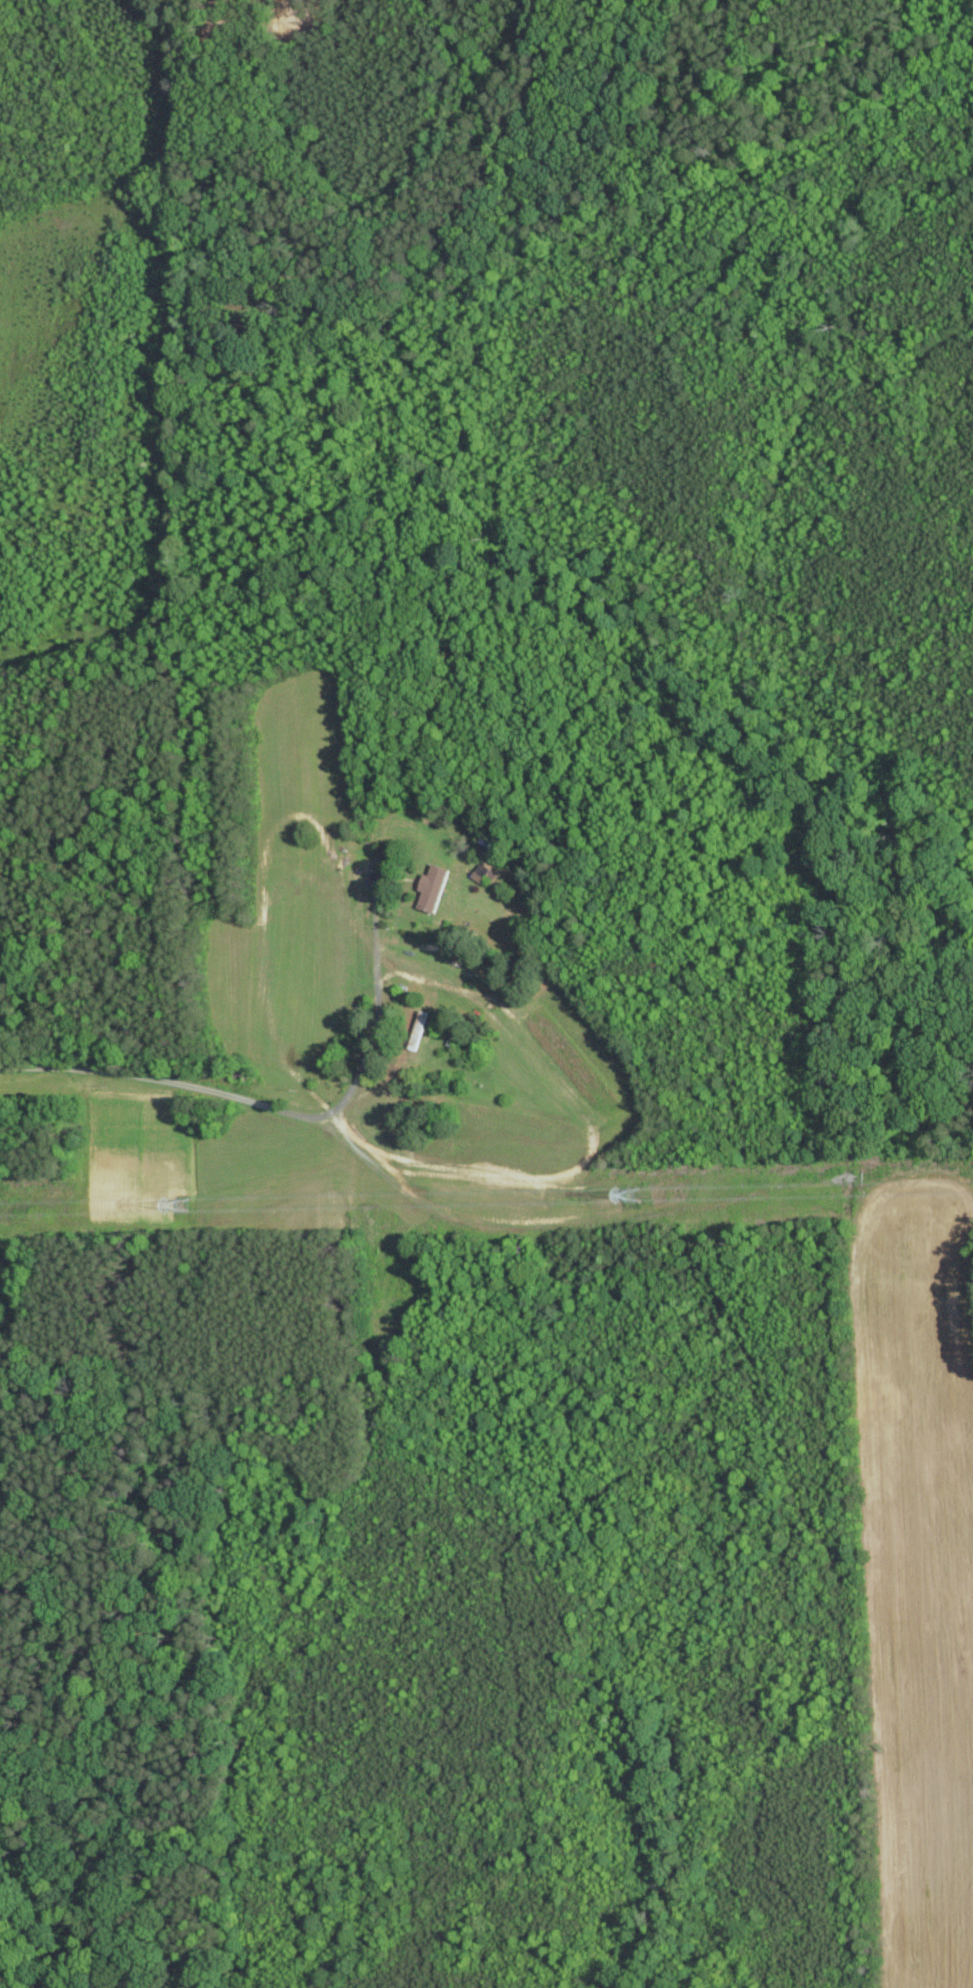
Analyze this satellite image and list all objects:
building: (483, 873)
building: (433, 886)
building: (418, 1028)
road: (284, 1110)
power tower: (658, 1194)
power tower: (180, 1206)

